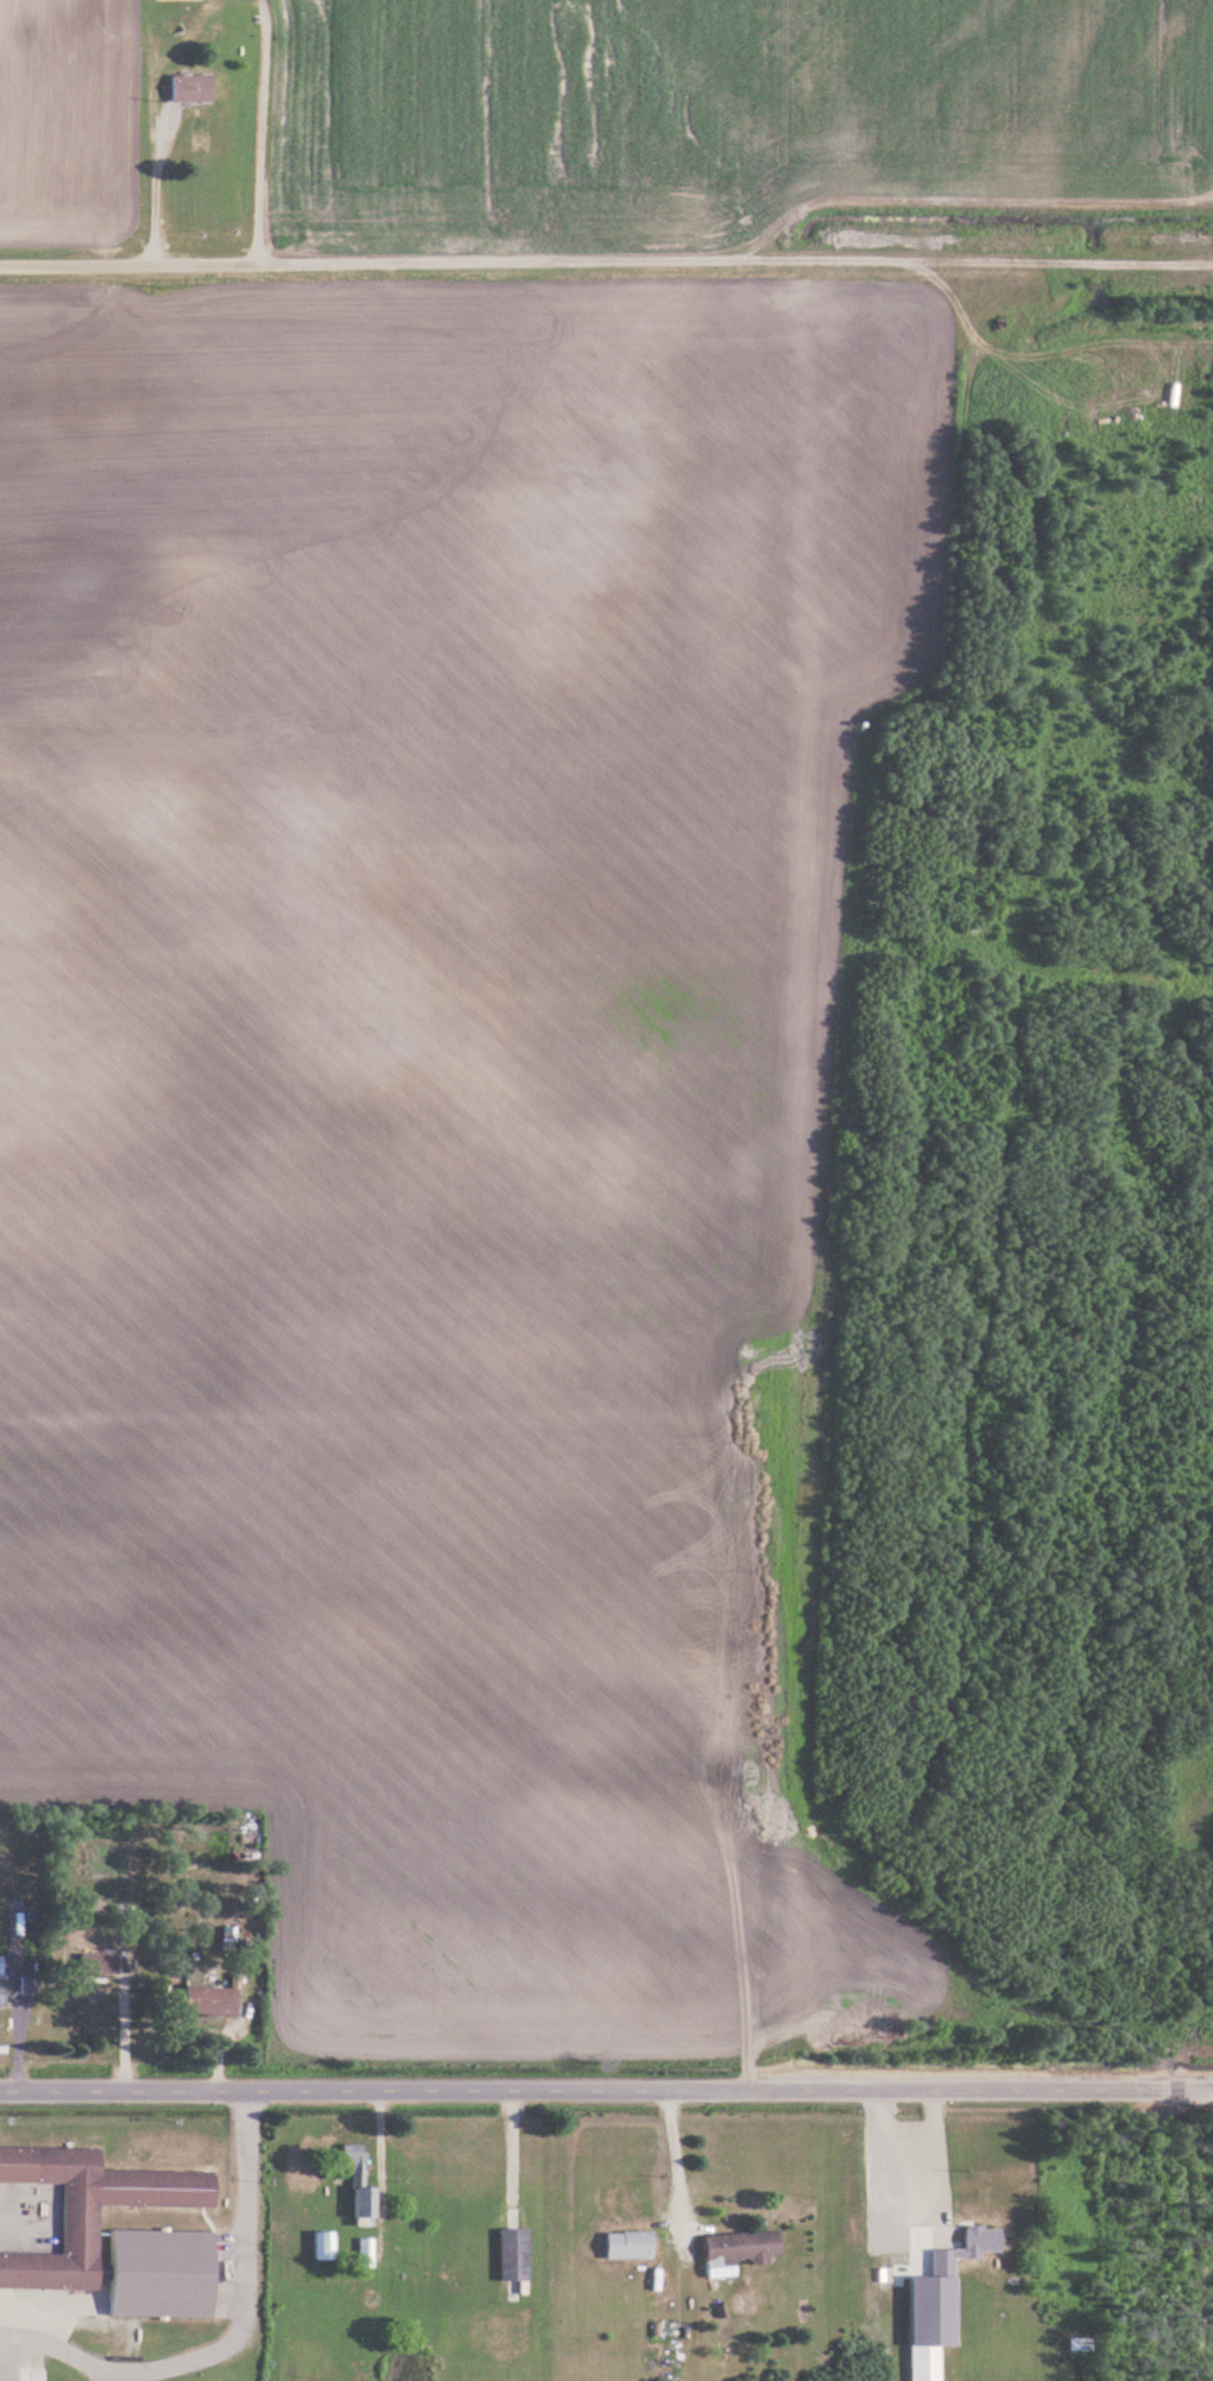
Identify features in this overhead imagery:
building: (179, 23)
building: (194, 88)
road: (151, 170)
road: (615, 256)
building: (100, 1965)
building: (1, 1966)
building: (2, 1996)
building: (211, 2002)
road: (606, 2089)
building: (361, 2184)
building: (88, 2209)
building: (984, 2238)
building: (630, 2244)
building: (326, 2245)
building: (740, 2250)
building: (368, 2251)
building: (516, 2254)
building: (945, 2262)
building: (162, 2273)
building: (927, 2362)
road: (1212, 2380)

